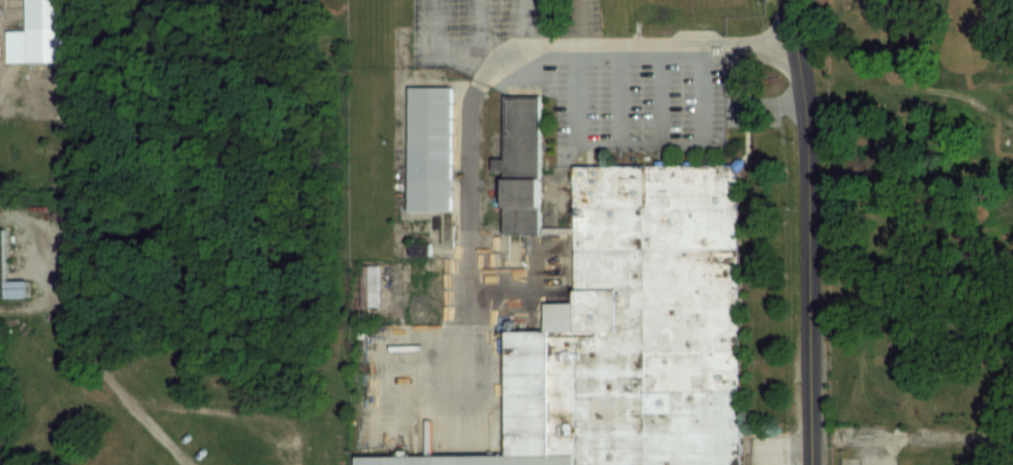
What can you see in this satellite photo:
road: (522, 24)
road: (475, 25)
building: (40, 33)
road: (758, 44)
road: (433, 46)
road: (594, 48)
road: (488, 54)
road: (657, 94)
road: (616, 95)
road: (613, 142)
building: (429, 149)
building: (518, 162)
road: (466, 182)
road: (806, 231)
building: (2, 255)
building: (629, 330)
road: (99, 370)

